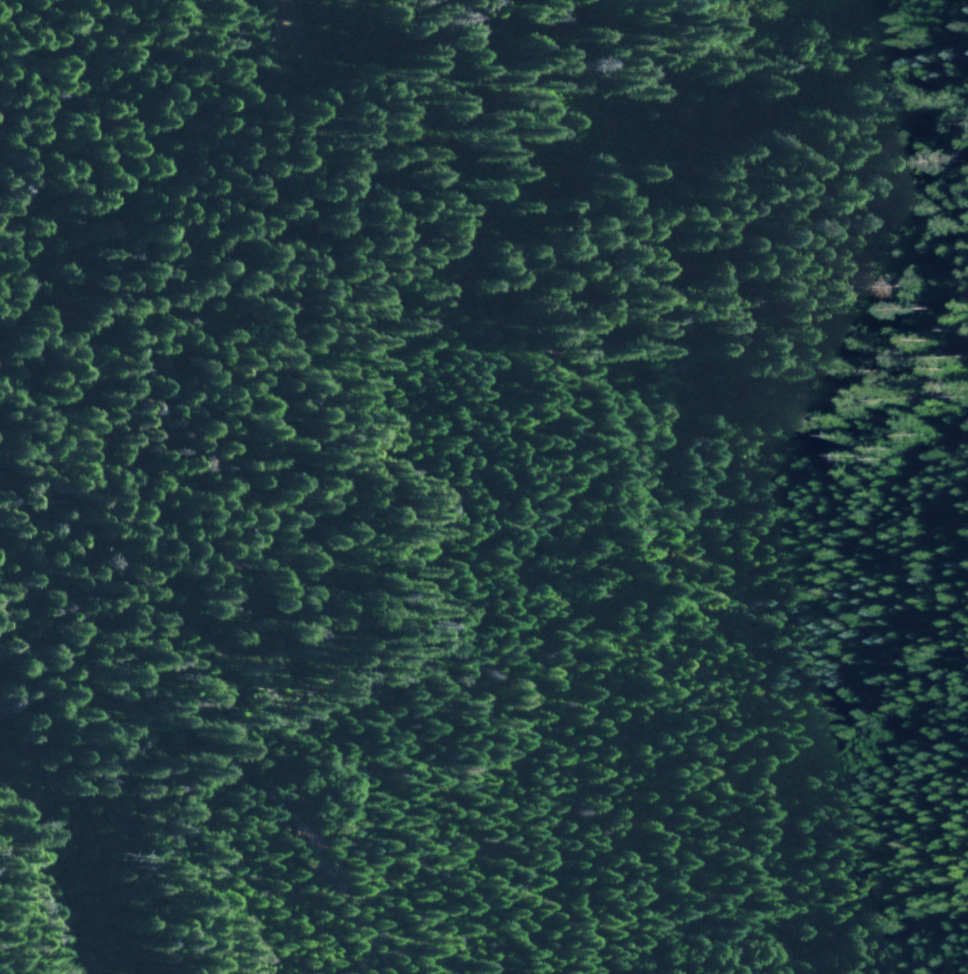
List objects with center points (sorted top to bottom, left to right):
road: (307, 26)

